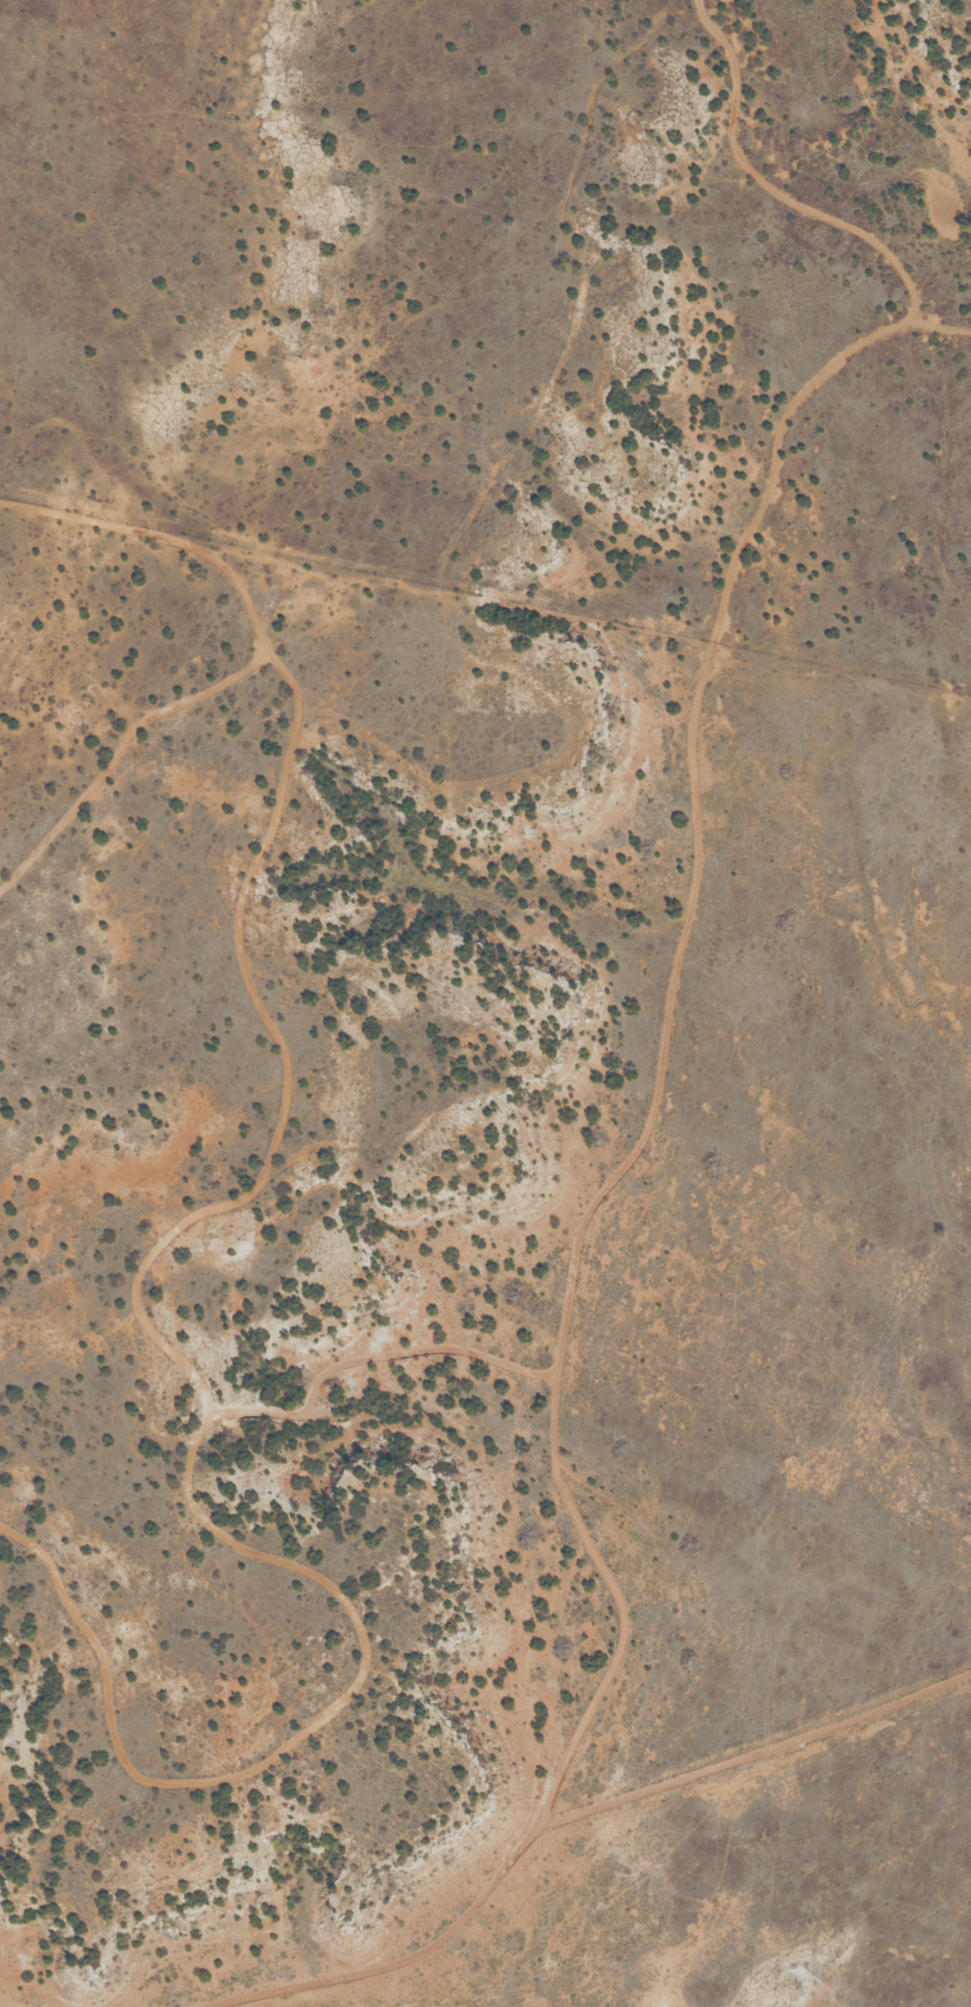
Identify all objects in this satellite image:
road: (785, 205)
road: (163, 538)
road: (118, 751)
road: (657, 1060)
road: (194, 1220)
road: (283, 1747)
road: (560, 1817)

